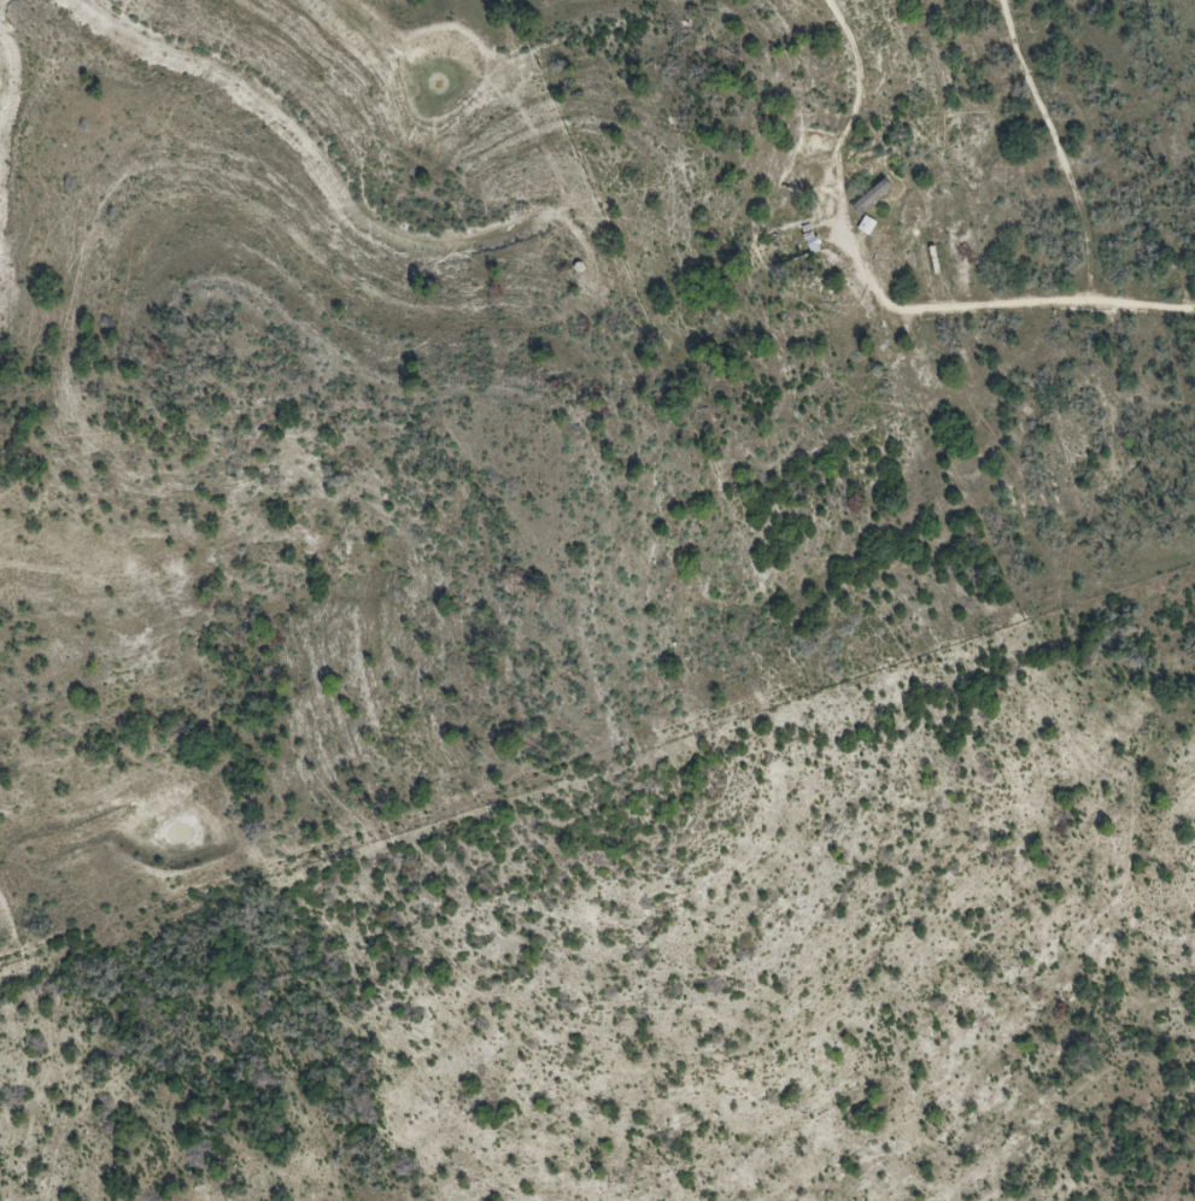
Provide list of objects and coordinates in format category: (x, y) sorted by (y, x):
road: (1059, 148)
building: (869, 197)
road: (857, 251)
road: (1143, 304)

